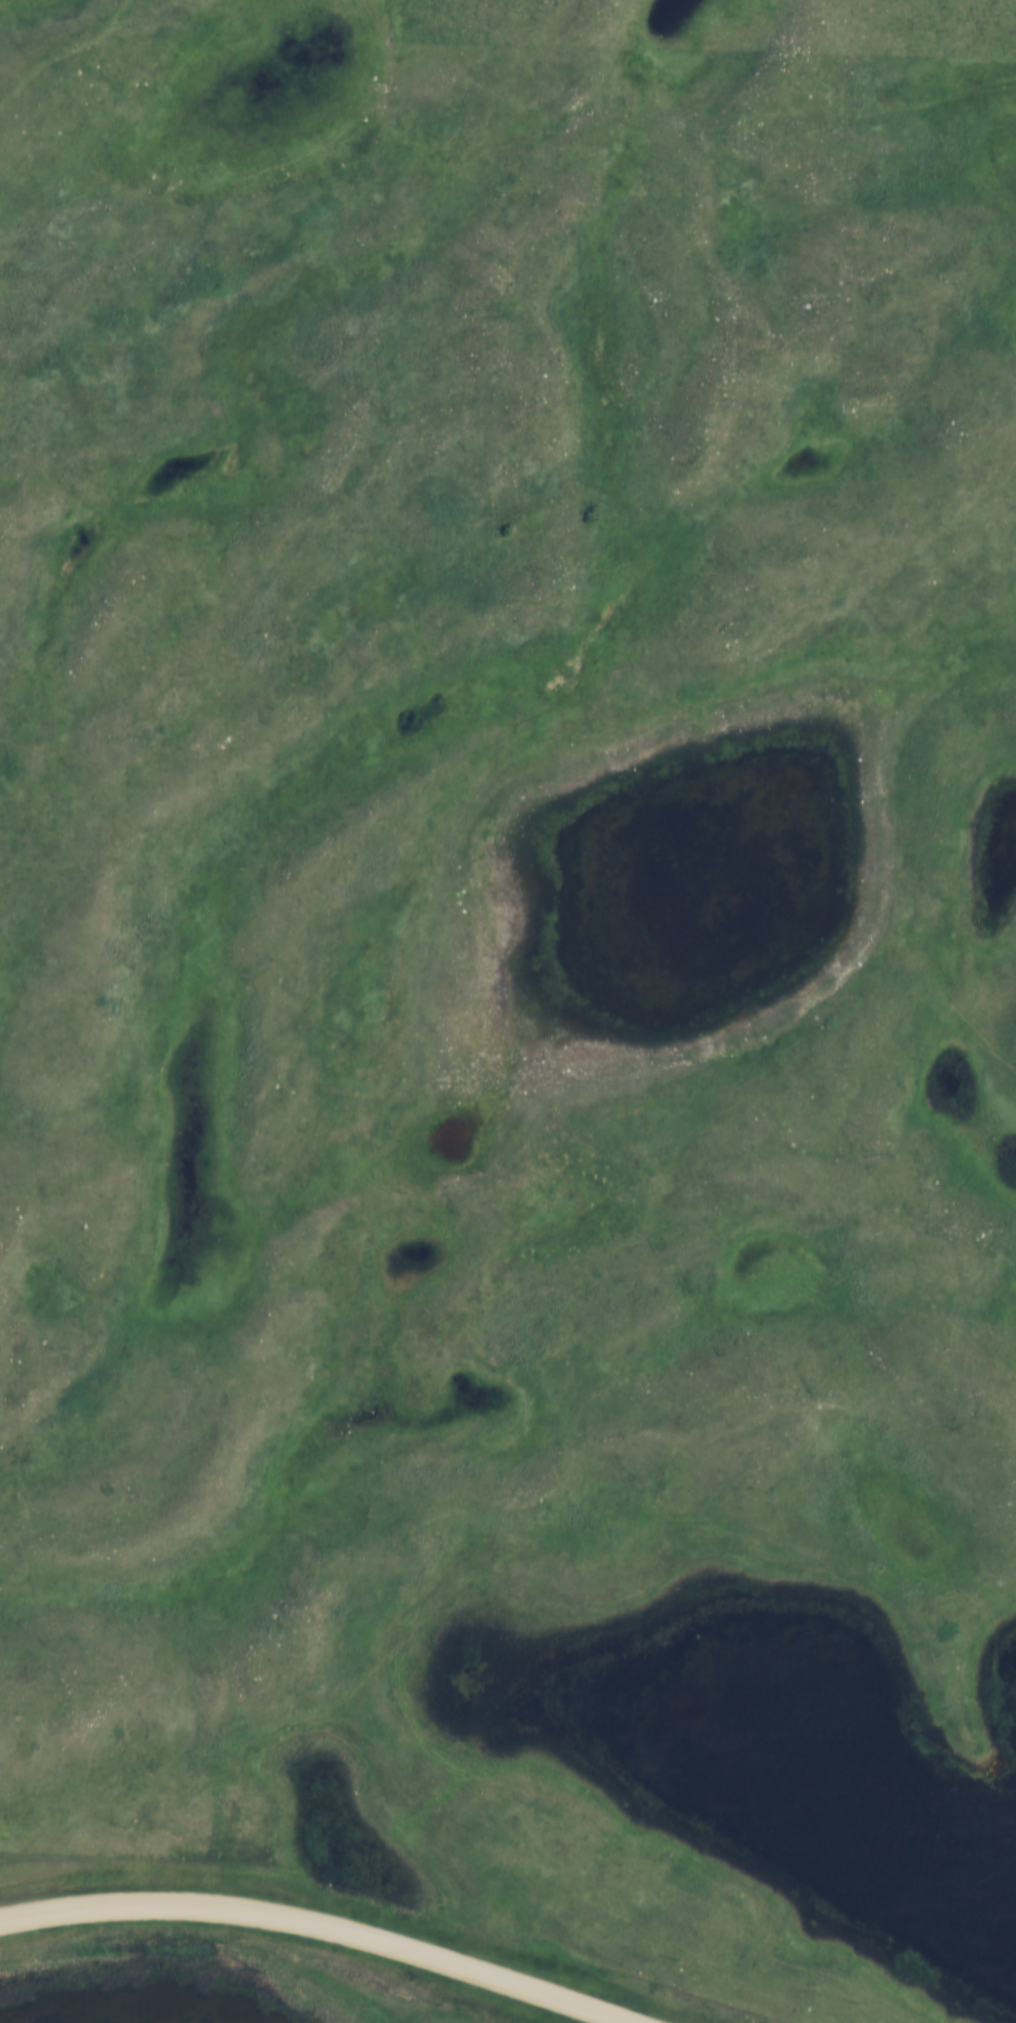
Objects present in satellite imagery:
road: (320, 1929)

